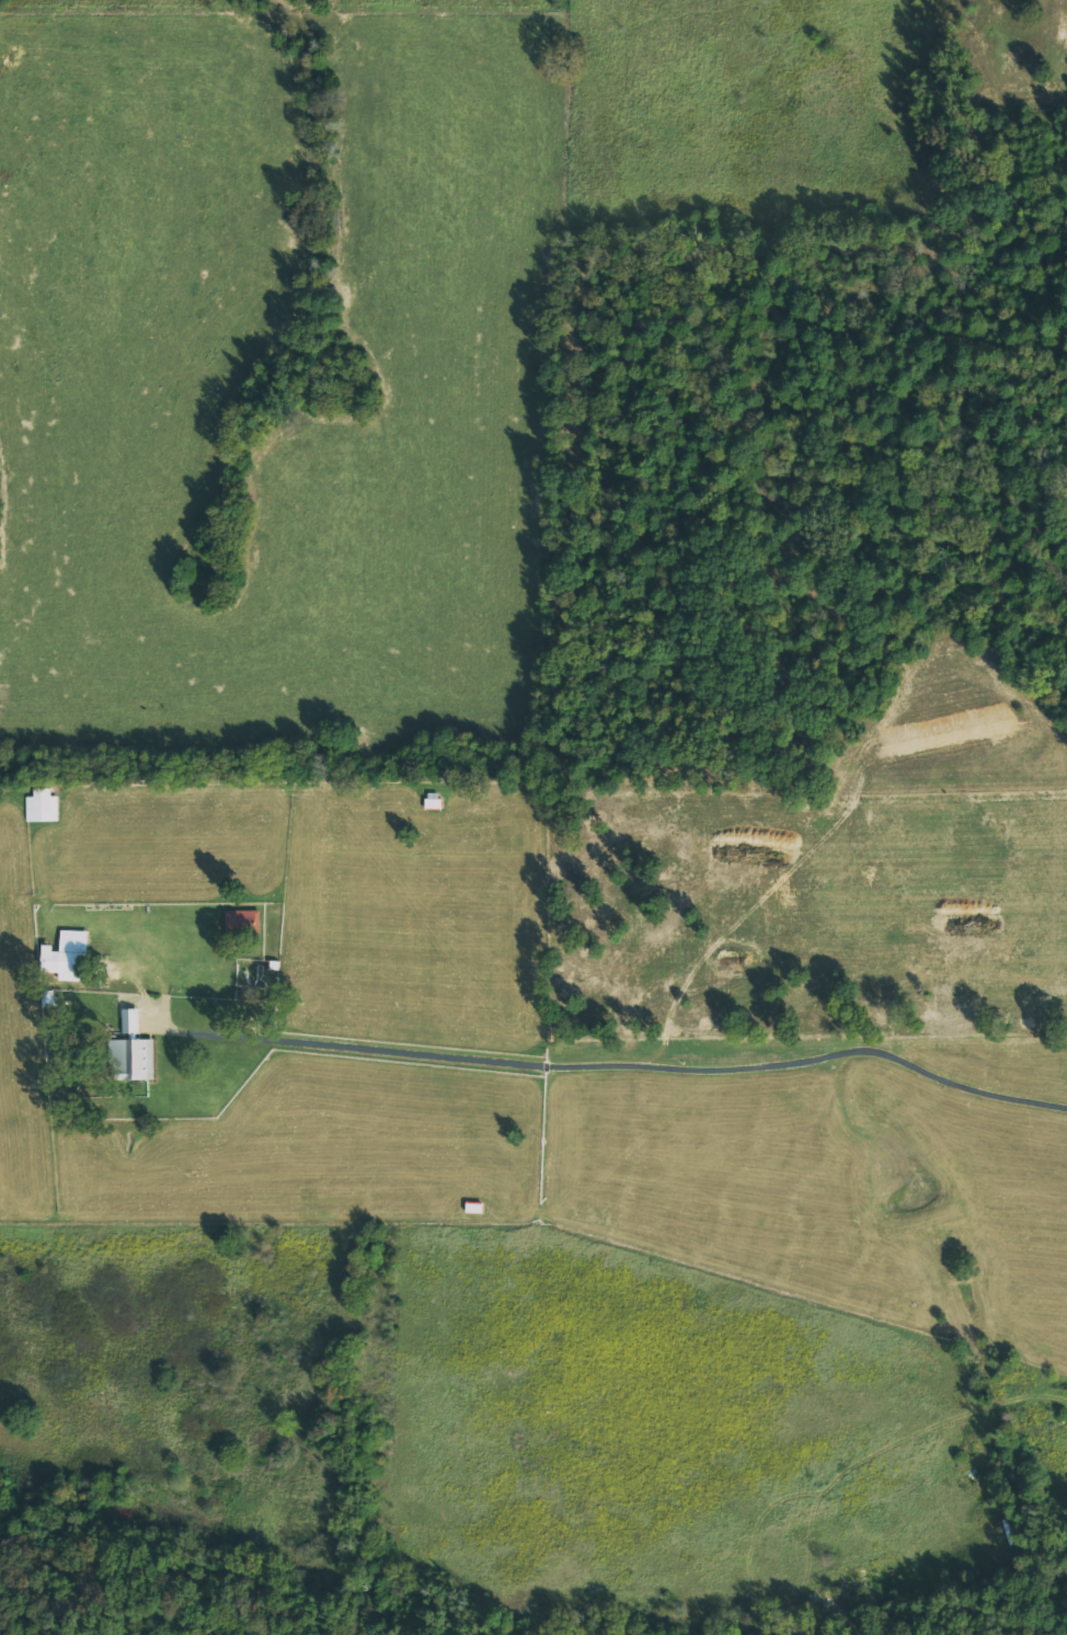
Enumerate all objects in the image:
building: (43, 807)
building: (243, 918)
building: (66, 954)
building: (131, 1051)

